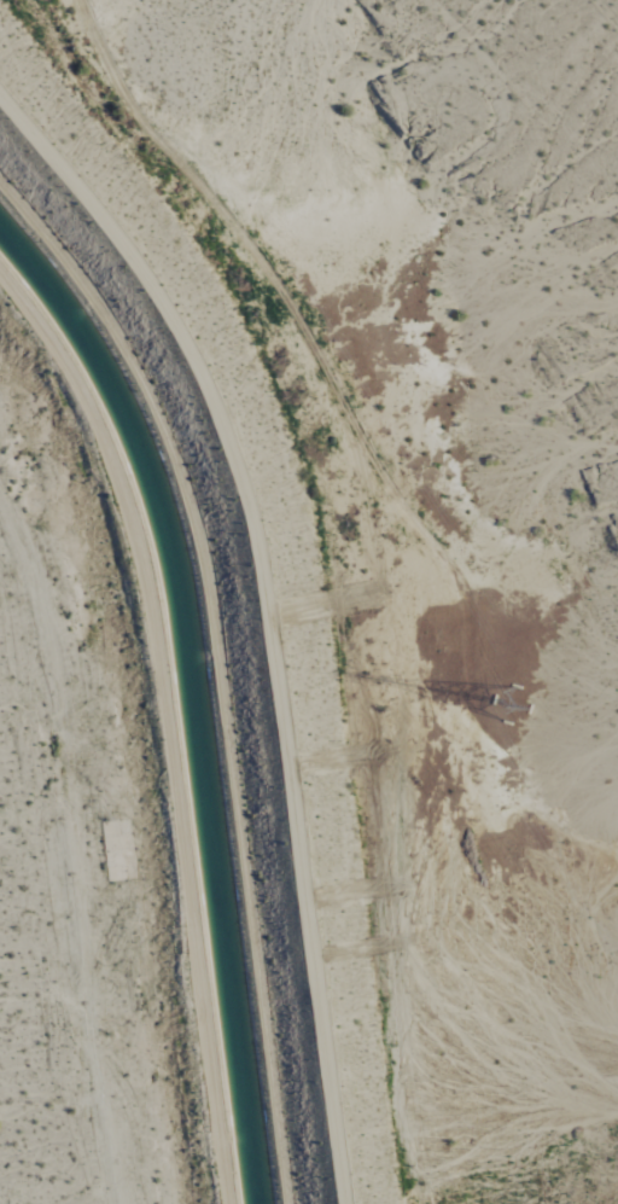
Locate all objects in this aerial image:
power tower: (489, 711)
road: (167, 722)

